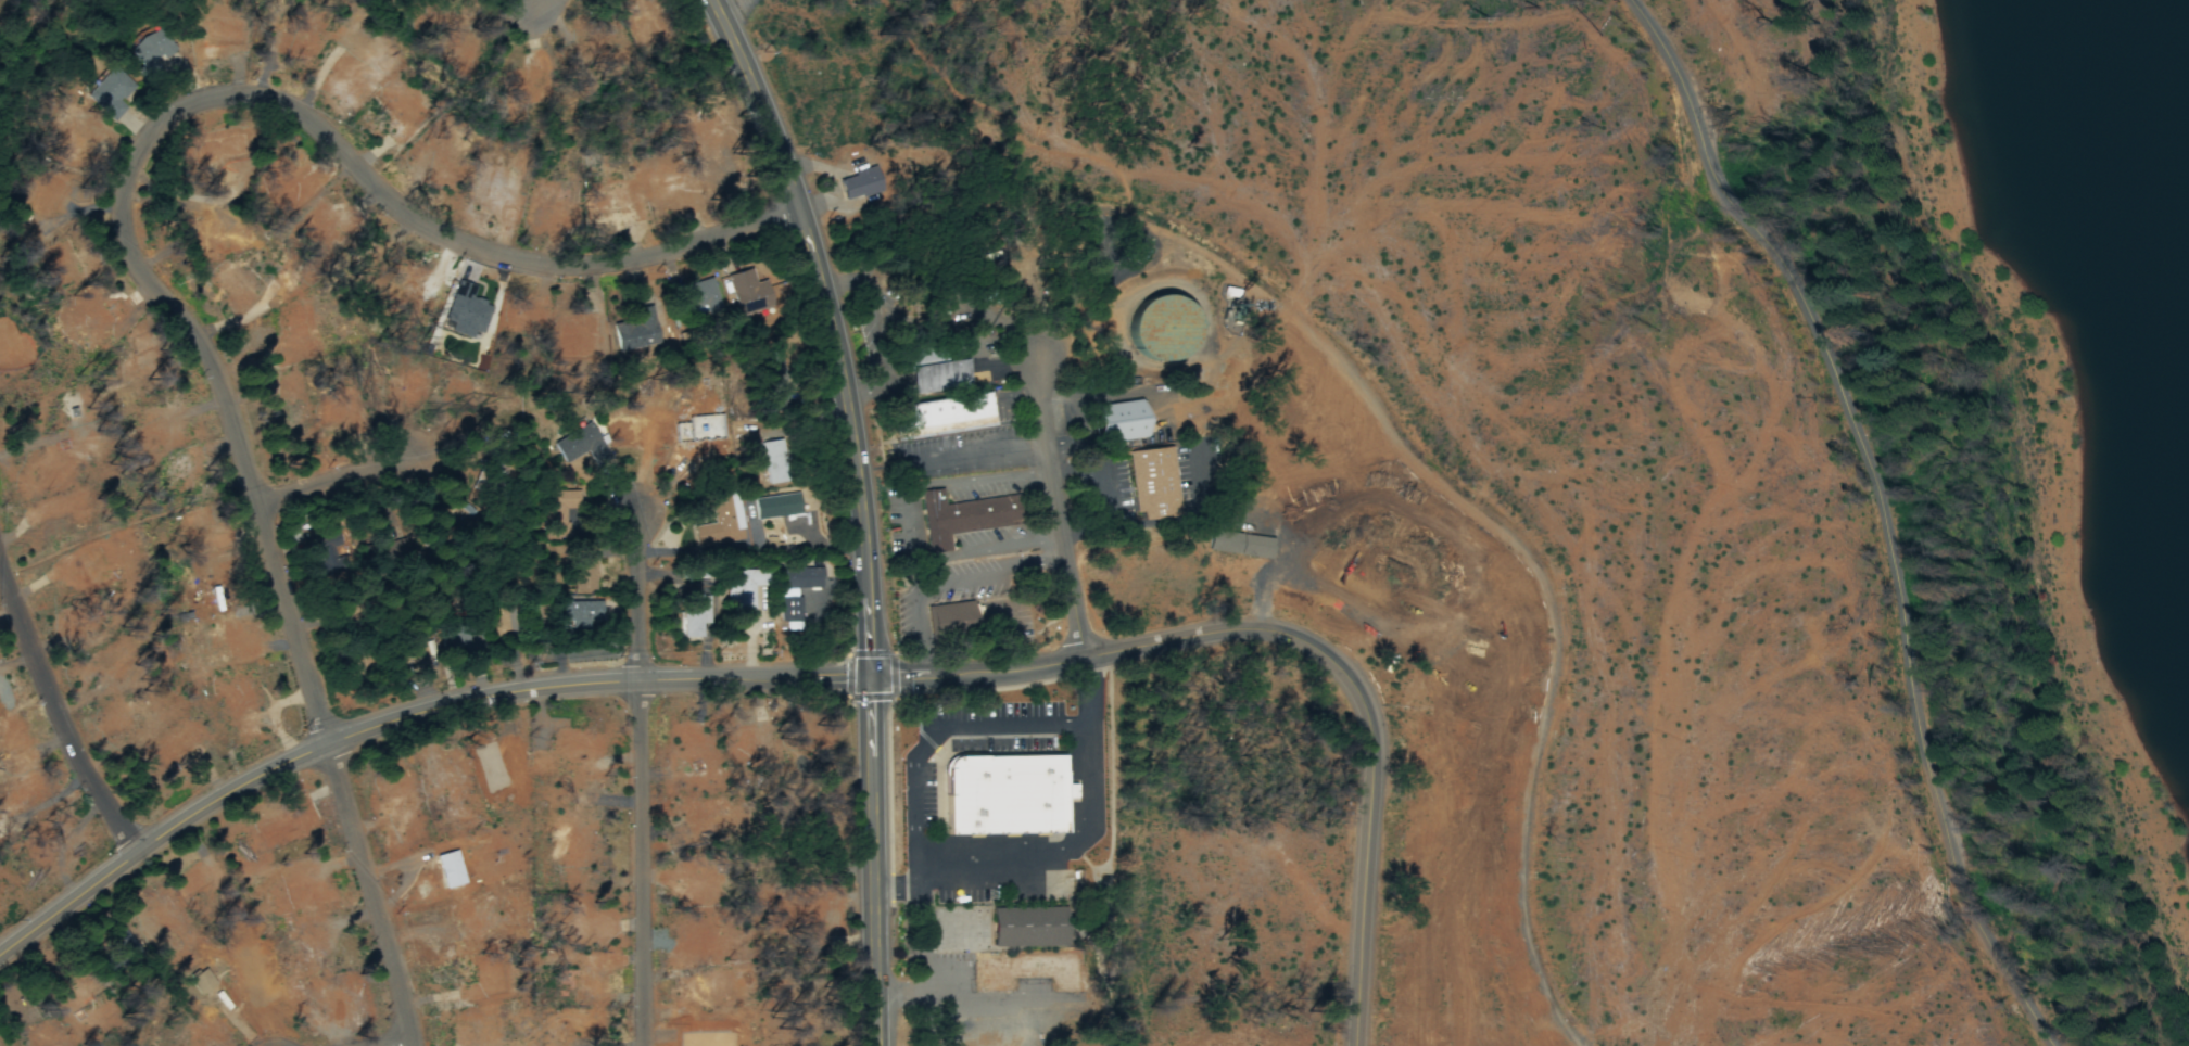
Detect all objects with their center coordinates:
road: (537, 4)
building: (112, 95)
road: (178, 117)
building: (750, 295)
building: (704, 299)
building: (928, 322)
storage tank: (1163, 327)
building: (638, 333)
building: (936, 366)
building: (945, 413)
building: (1121, 421)
building: (584, 447)
building: (774, 464)
road: (337, 480)
building: (1154, 485)
road: (1058, 508)
building: (776, 509)
road: (866, 510)
road: (1865, 511)
building: (965, 515)
building: (1240, 545)
building: (745, 592)
road: (636, 594)
building: (794, 596)
building: (581, 615)
building: (951, 615)
building: (693, 617)
road: (1301, 640)
road: (54, 711)
road: (406, 716)
parking lot: (997, 726)
road: (934, 734)
parking lot: (926, 795)
building: (1004, 795)
building: (928, 846)
road: (1065, 846)
road: (642, 864)
road: (375, 894)
parking lot: (958, 896)
building: (1029, 927)
building: (1027, 971)
road: (402, 1043)

